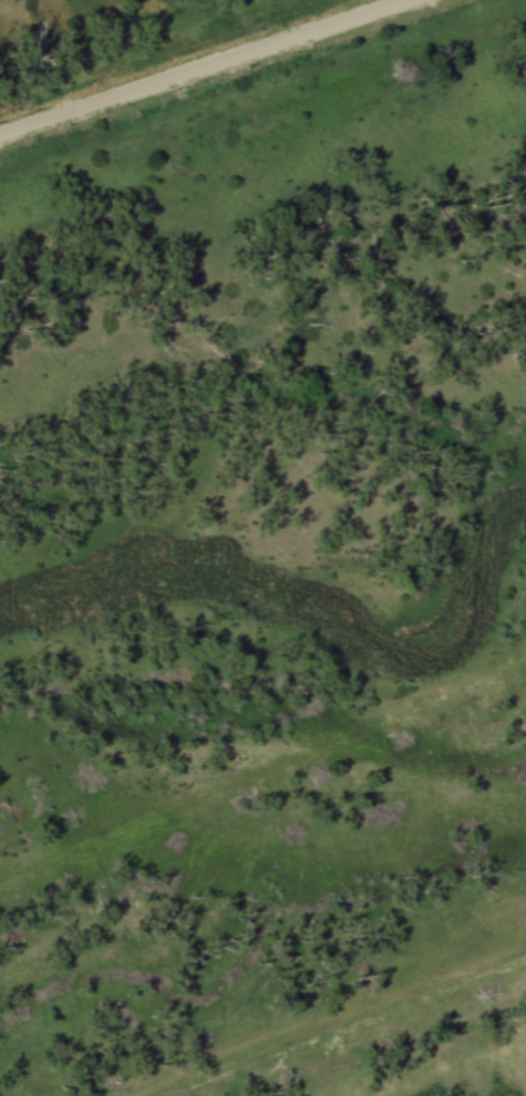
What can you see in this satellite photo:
road: (208, 69)
river: (297, 587)

